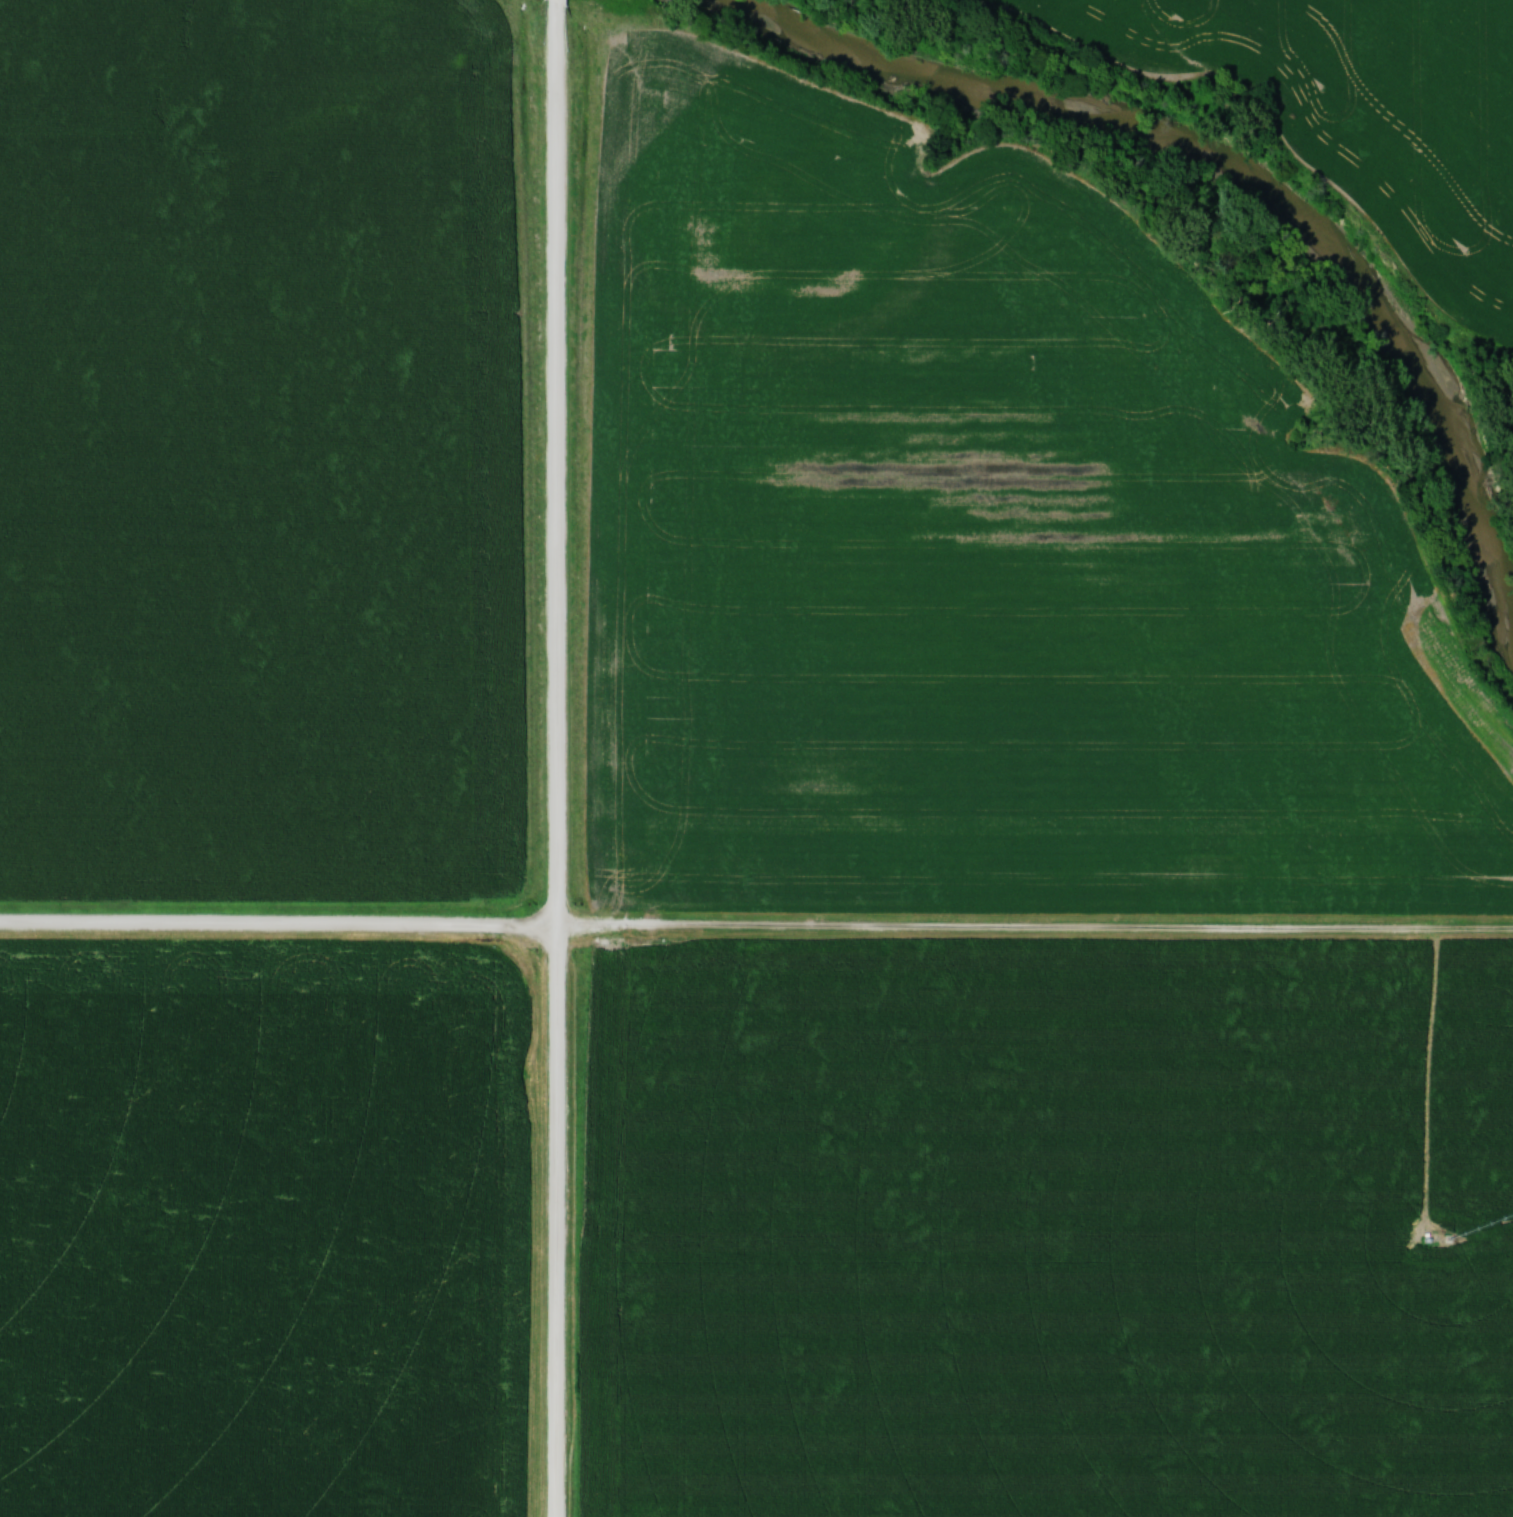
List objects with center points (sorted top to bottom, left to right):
river: (1233, 171)
road: (555, 758)
road: (756, 930)

